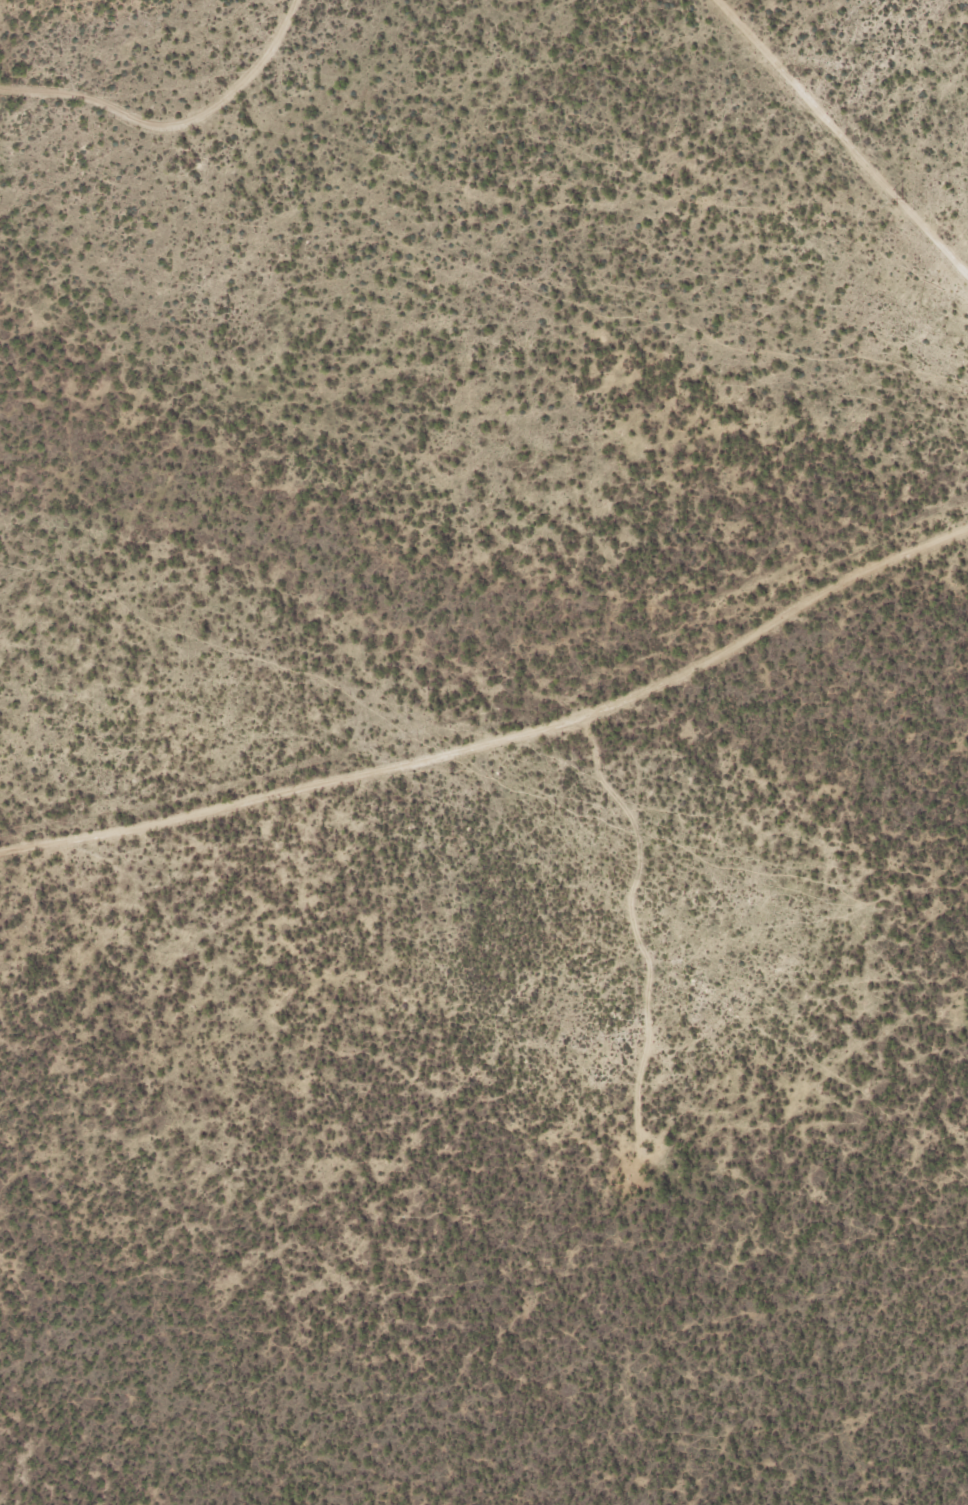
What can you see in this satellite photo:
road: (174, 121)
road: (844, 136)
power tower: (897, 200)
road: (501, 738)
road: (636, 928)

